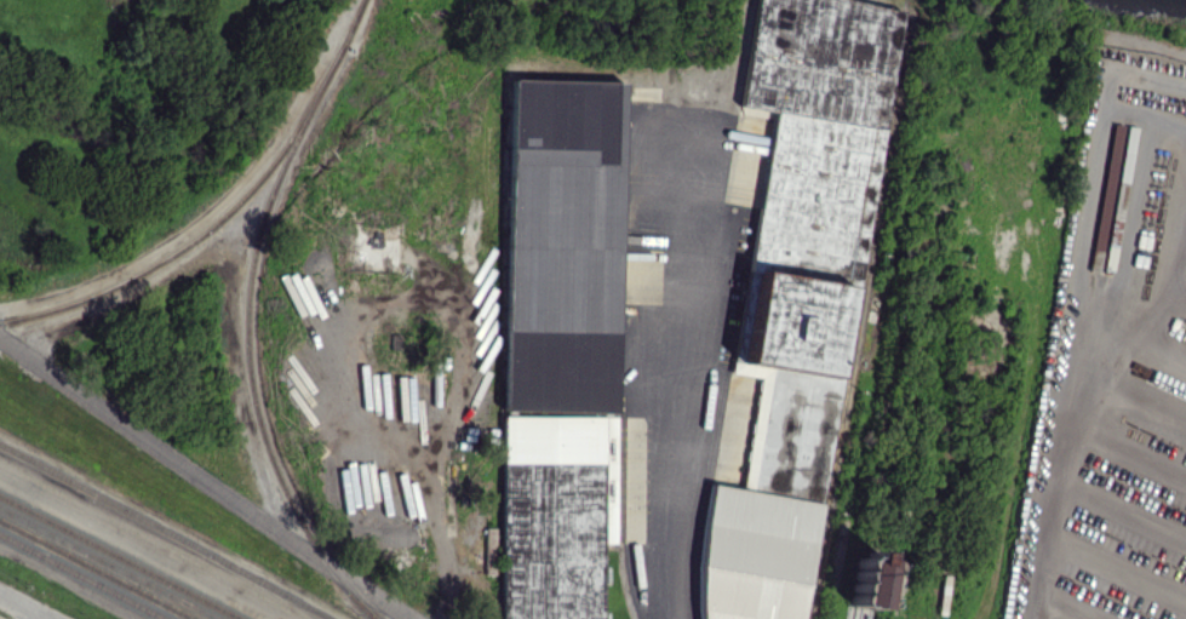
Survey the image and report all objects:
building: (1106, 187)
building: (1121, 187)
building: (806, 224)
railway: (207, 229)
building: (561, 246)
railway: (856, 313)
railway: (247, 315)
road: (687, 368)
road: (1067, 431)
building: (555, 514)
railway: (165, 532)
building: (754, 555)
railway: (119, 558)
railway: (107, 563)
railway: (94, 571)
railway: (81, 577)
building: (866, 579)
road: (21, 608)
road: (36, 618)

